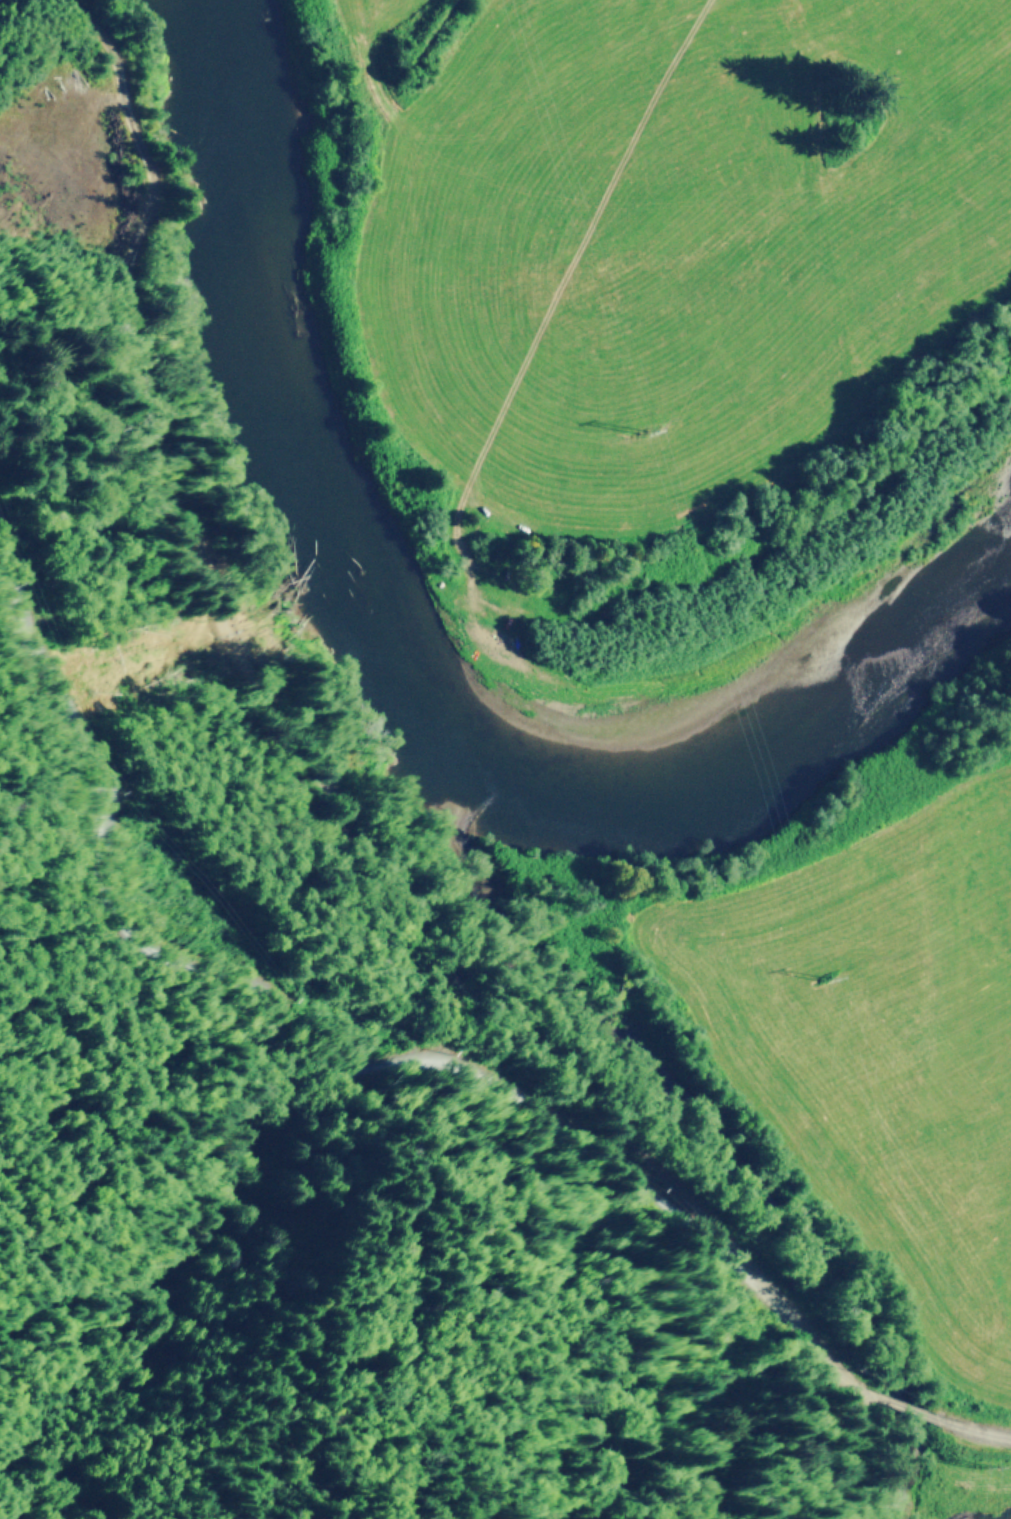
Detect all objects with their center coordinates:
crop: (641, 219)
river: (405, 653)
road: (422, 1049)
crop: (885, 1082)

